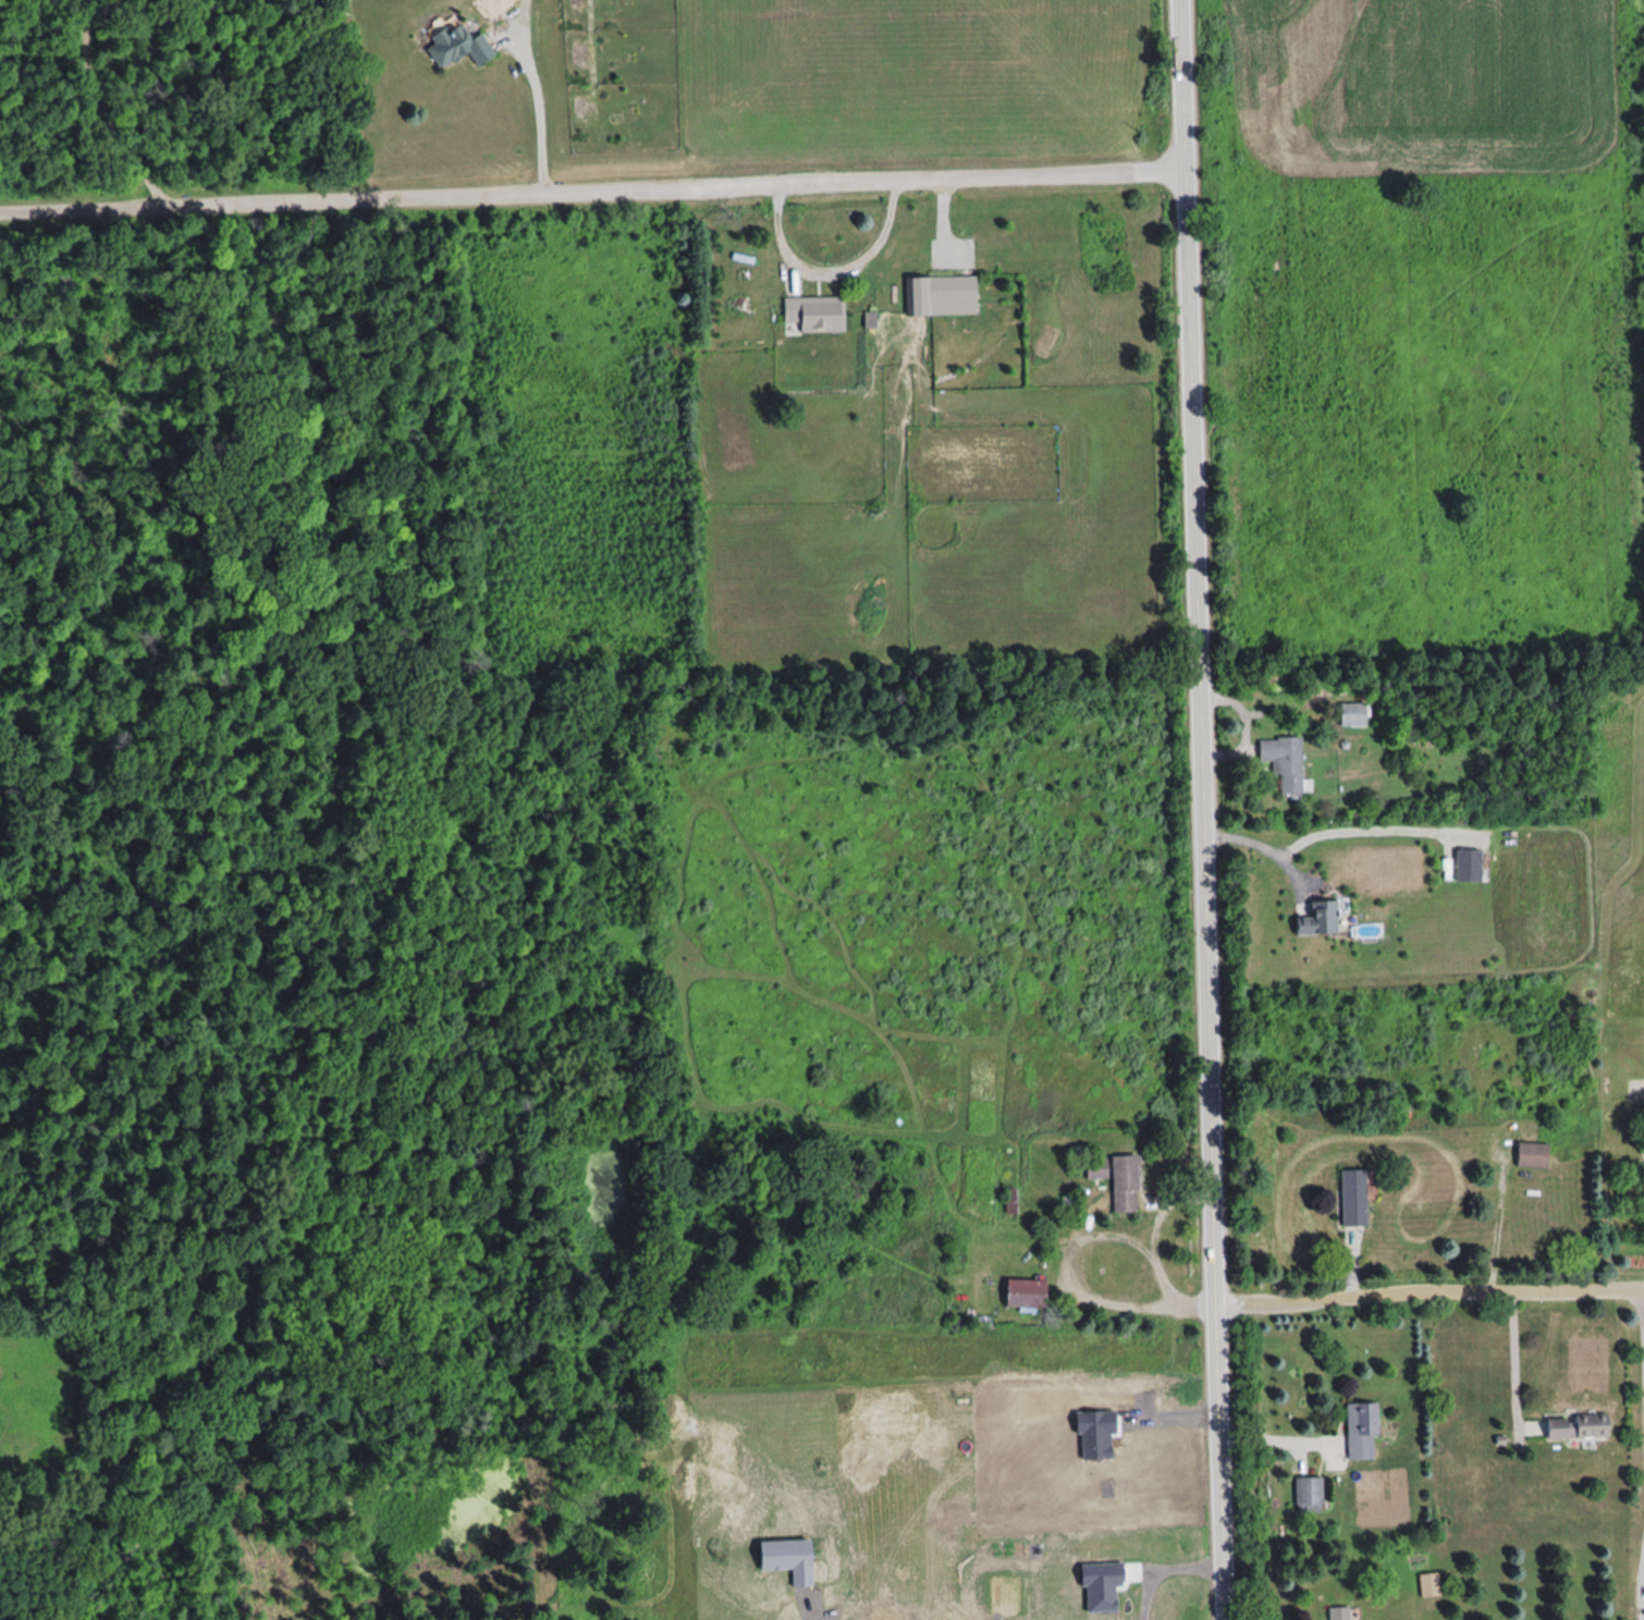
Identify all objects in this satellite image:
building: (457, 46)
road: (539, 103)
road: (107, 110)
road: (591, 191)
building: (942, 295)
building: (814, 314)
building: (1353, 713)
building: (1285, 760)
road: (1203, 810)
road: (1378, 822)
road: (1263, 836)
building: (1470, 863)
building: (1322, 918)
building: (1534, 1153)
building: (1097, 1167)
building: (1126, 1182)
building: (1354, 1196)
building: (1010, 1199)
road: (1070, 1261)
building: (1027, 1292)
road: (1430, 1296)
road: (1517, 1357)
building: (1580, 1426)
building: (1362, 1431)
road: (1277, 1438)
building: (1310, 1494)
building: (1431, 1584)
building: (1341, 1612)

